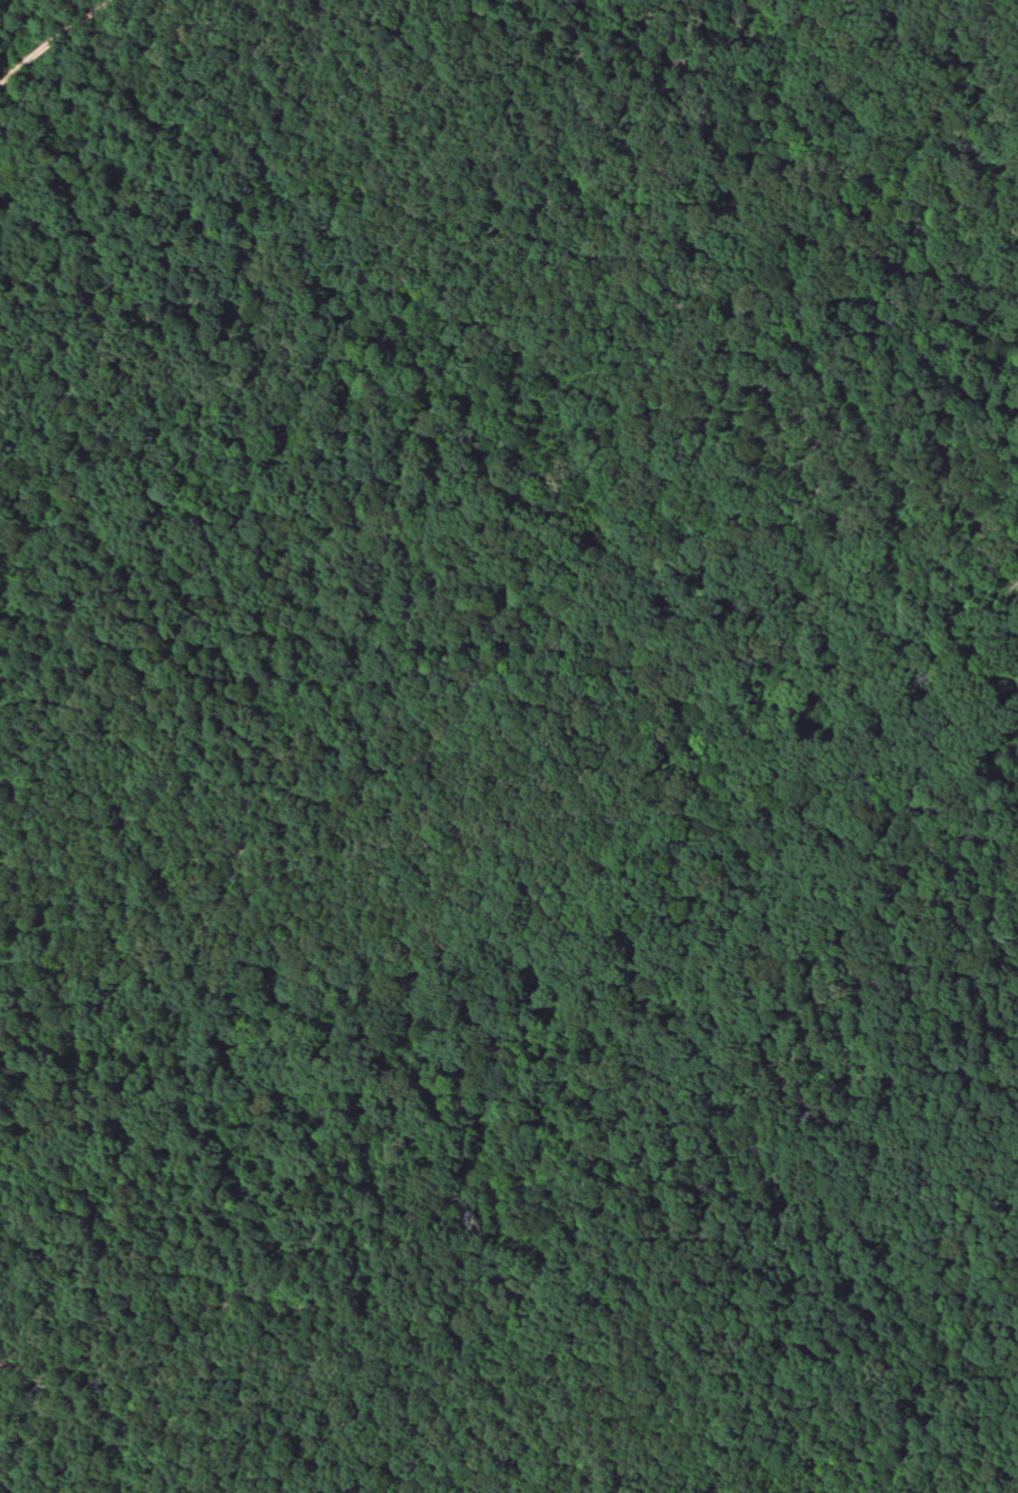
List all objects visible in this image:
road: (49, 42)

